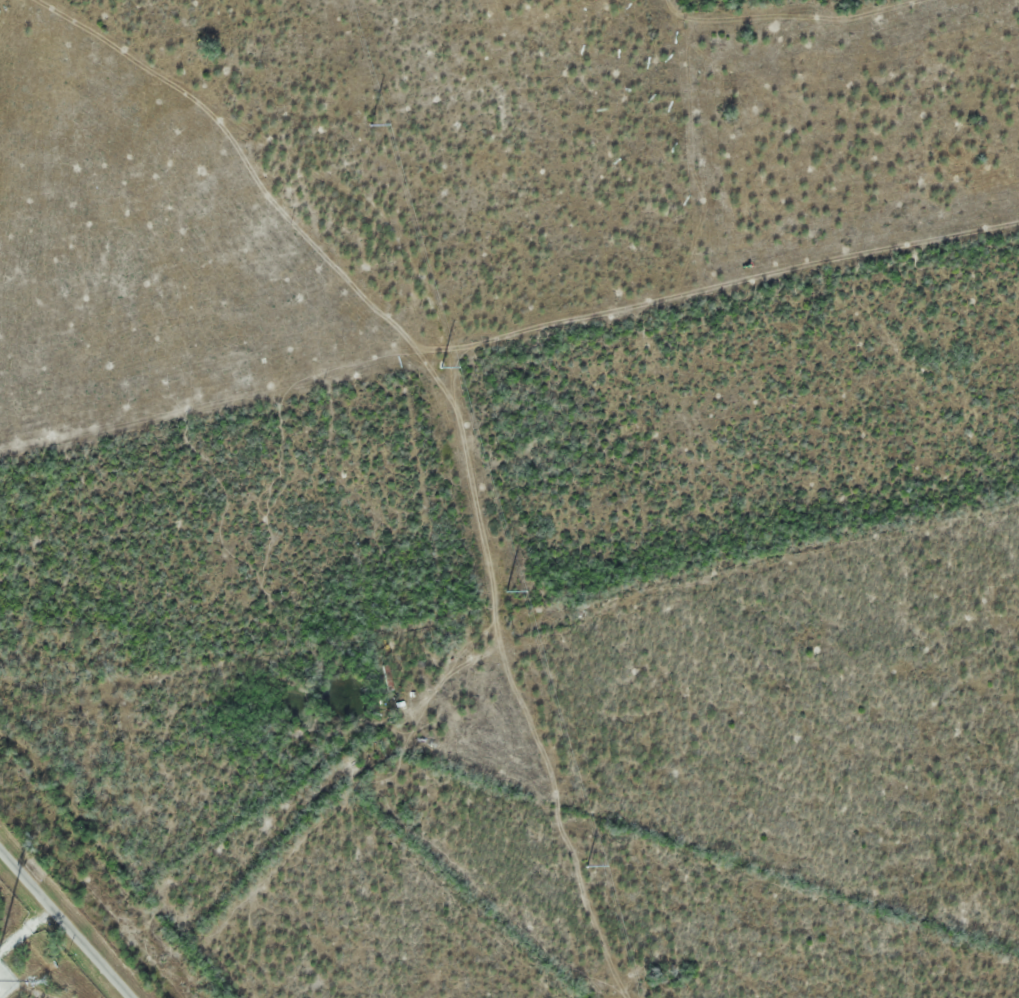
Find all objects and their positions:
power tower: (371, 126)
power tower: (440, 367)
power tower: (505, 591)
power tower: (586, 868)
road: (65, 923)

